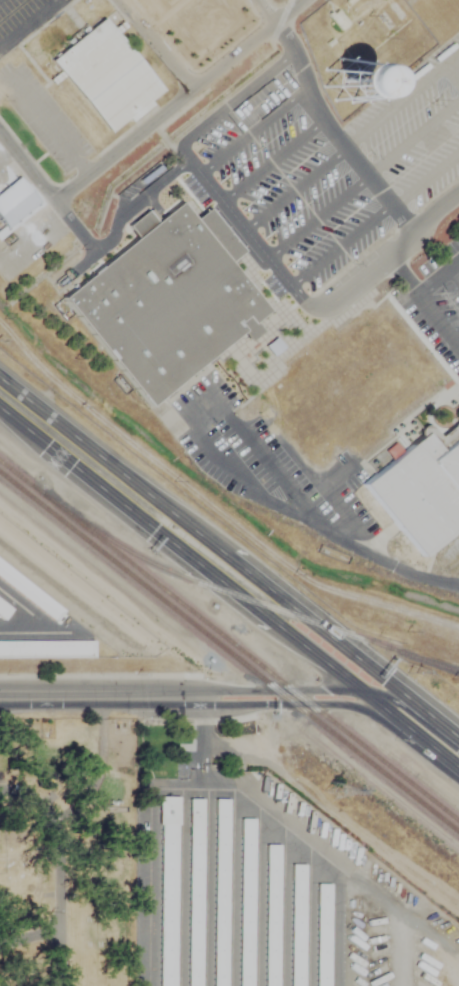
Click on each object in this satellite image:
road: (264, 12)
road: (28, 21)
building: (106, 75)
building: (357, 80)
water tower: (350, 86)
road: (178, 102)
road: (226, 103)
road: (252, 129)
road: (333, 135)
road: (271, 159)
road: (27, 168)
road: (293, 188)
building: (15, 204)
road: (316, 216)
road: (247, 234)
road: (339, 244)
road: (439, 280)
building: (167, 299)
road: (424, 302)
building: (420, 492)
road: (325, 529)
road: (229, 555)
road: (229, 584)
building: (28, 594)
railway: (256, 601)
building: (3, 610)
railway: (229, 641)
building: (45, 650)
railway: (229, 652)
road: (315, 687)
road: (52, 697)
road: (148, 697)
road: (315, 700)
power tower: (335, 792)
road: (31, 802)
road: (60, 833)
park: (68, 851)
building: (167, 892)
building: (193, 892)
building: (220, 893)
building: (245, 902)
building: (271, 915)
building: (295, 925)
building: (322, 933)
road: (31, 938)
road: (59, 984)

